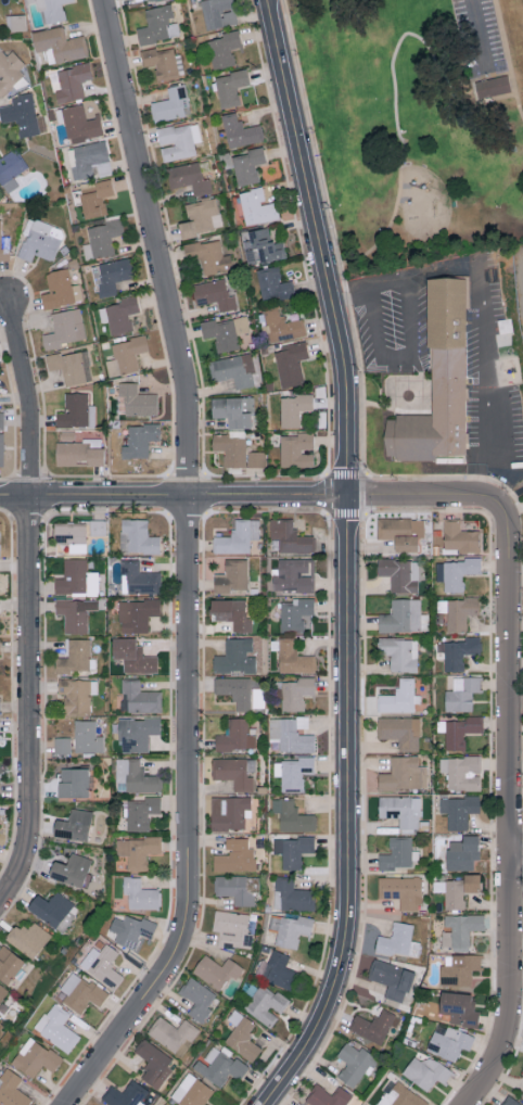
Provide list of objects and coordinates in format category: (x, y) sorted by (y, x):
building: (154, 1)
building: (51, 9)
building: (219, 14)
building: (157, 26)
road: (480, 34)
parking lot: (477, 36)
building: (60, 46)
building: (225, 50)
road: (506, 59)
building: (161, 64)
building: (10, 73)
building: (72, 82)
building: (494, 88)
building: (231, 89)
road: (394, 90)
building: (173, 106)
building: (22, 116)
building: (80, 124)
park: (417, 124)
building: (241, 132)
building: (178, 142)
building: (88, 160)
building: (12, 167)
building: (250, 168)
building: (190, 179)
building: (97, 200)
building: (257, 208)
building: (199, 218)
road: (333, 236)
building: (105, 238)
building: (39, 243)
road: (320, 245)
building: (4, 246)
building: (266, 247)
building: (207, 258)
road: (406, 276)
building: (111, 277)
building: (273, 287)
building: (58, 291)
building: (215, 296)
building: (120, 315)
building: (284, 328)
building: (65, 329)
parking lot: (394, 332)
building: (226, 333)
building: (126, 357)
road: (397, 358)
building: (291, 365)
building: (72, 368)
building: (234, 371)
parking lot: (488, 371)
road: (487, 379)
building: (442, 383)
building: (138, 402)
building: (296, 410)
building: (77, 414)
building: (232, 414)
building: (2, 422)
building: (141, 442)
building: (1, 450)
building: (231, 450)
building: (297, 452)
building: (77, 454)
building: (256, 460)
traffic signals: (346, 494)
road: (414, 494)
road: (173, 495)
road: (511, 498)
road: (328, 512)
building: (98, 526)
building: (400, 531)
building: (71, 533)
building: (137, 536)
building: (238, 536)
building: (290, 536)
building: (459, 536)
road: (188, 566)
building: (455, 572)
building: (399, 573)
building: (294, 574)
building: (231, 575)
building: (76, 577)
building: (138, 577)
road: (29, 602)
building: (457, 611)
building: (232, 612)
building: (296, 613)
building: (73, 614)
building: (137, 614)
building: (400, 615)
building: (458, 651)
building: (0, 652)
building: (399, 652)
building: (75, 656)
building: (132, 656)
building: (235, 657)
building: (294, 658)
building: (234, 690)
building: (296, 693)
building: (77, 694)
building: (461, 694)
building: (139, 697)
building: (399, 697)
building: (400, 731)
building: (461, 732)
building: (137, 733)
building: (291, 734)
building: (235, 736)
building: (87, 737)
building: (61, 746)
building: (234, 772)
building: (292, 772)
building: (461, 772)
building: (404, 774)
building: (135, 776)
building: (73, 782)
road: (512, 799)
building: (400, 810)
building: (458, 810)
road: (349, 811)
building: (141, 812)
building: (229, 812)
building: (292, 816)
building: (73, 825)
building: (292, 850)
building: (138, 851)
building: (396, 853)
building: (461, 853)
road: (518, 855)
building: (234, 856)
building: (72, 871)
building: (237, 889)
building: (460, 890)
building: (401, 891)
building: (140, 893)
building: (291, 896)
building: (49, 907)
building: (234, 926)
building: (129, 929)
building: (290, 929)
building: (460, 929)
building: (27, 939)
building: (398, 941)
building: (9, 964)
building: (102, 965)
building: (459, 969)
building: (216, 970)
building: (278, 970)
building: (391, 978)
building: (2, 992)
building: (81, 992)
building: (197, 998)
building: (266, 1004)
building: (458, 1008)
building: (372, 1026)
building: (58, 1027)
building: (171, 1033)
building: (242, 1036)
building: (449, 1043)
building: (35, 1057)
building: (154, 1063)
building: (354, 1064)
building: (218, 1066)
building: (426, 1071)
building: (522, 1072)
building: (12, 1089)
building: (191, 1091)
building: (125, 1094)
building: (328, 1096)
building: (401, 1096)
building: (509, 1102)
building: (366, 1104)

